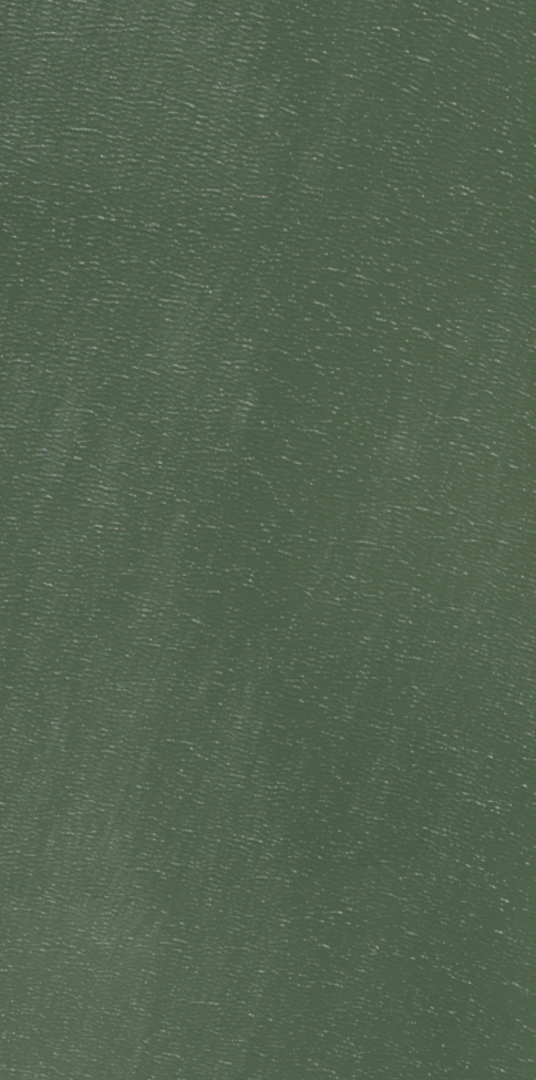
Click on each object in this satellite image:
park: (268, 539)

